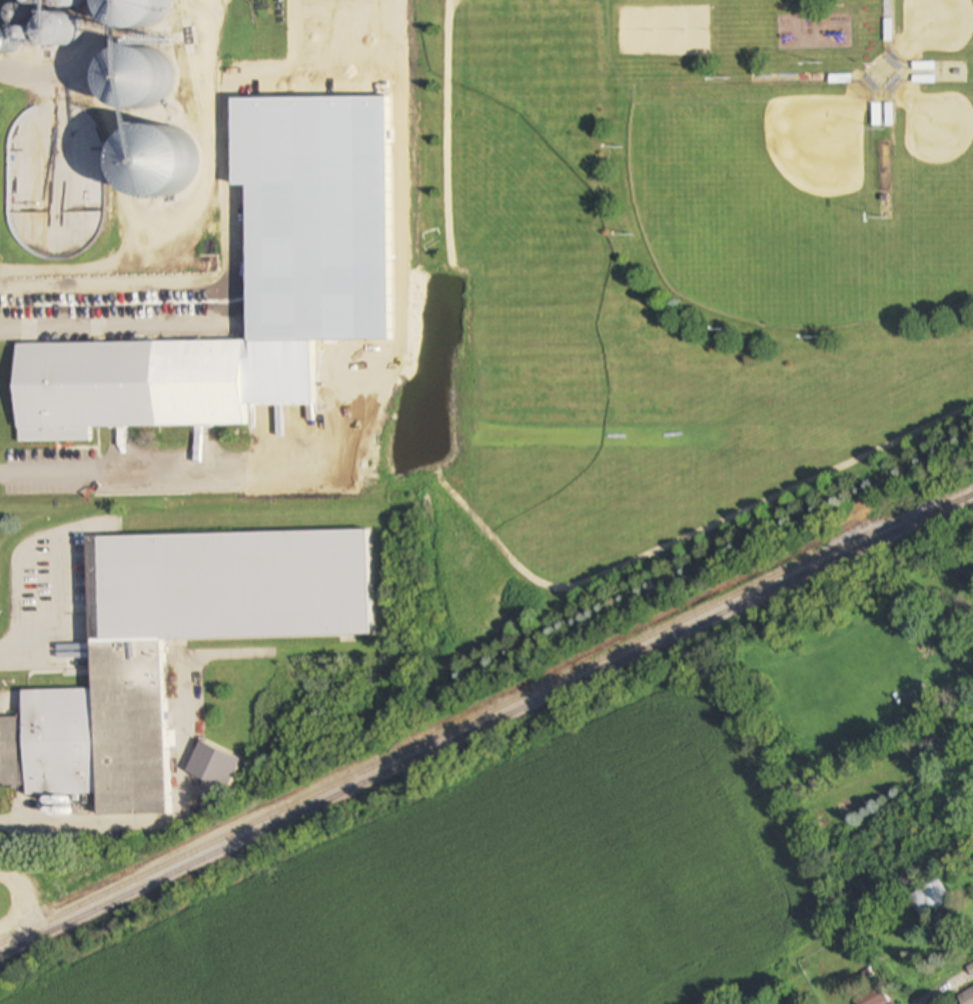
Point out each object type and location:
building: (38, 34)
building: (1, 41)
building: (134, 80)
park: (671, 297)
building: (126, 386)
road: (275, 400)
road: (14, 656)
building: (129, 666)
railway: (484, 714)
railway: (486, 723)
road: (146, 825)
building: (930, 899)
building: (966, 996)
building: (871, 997)

